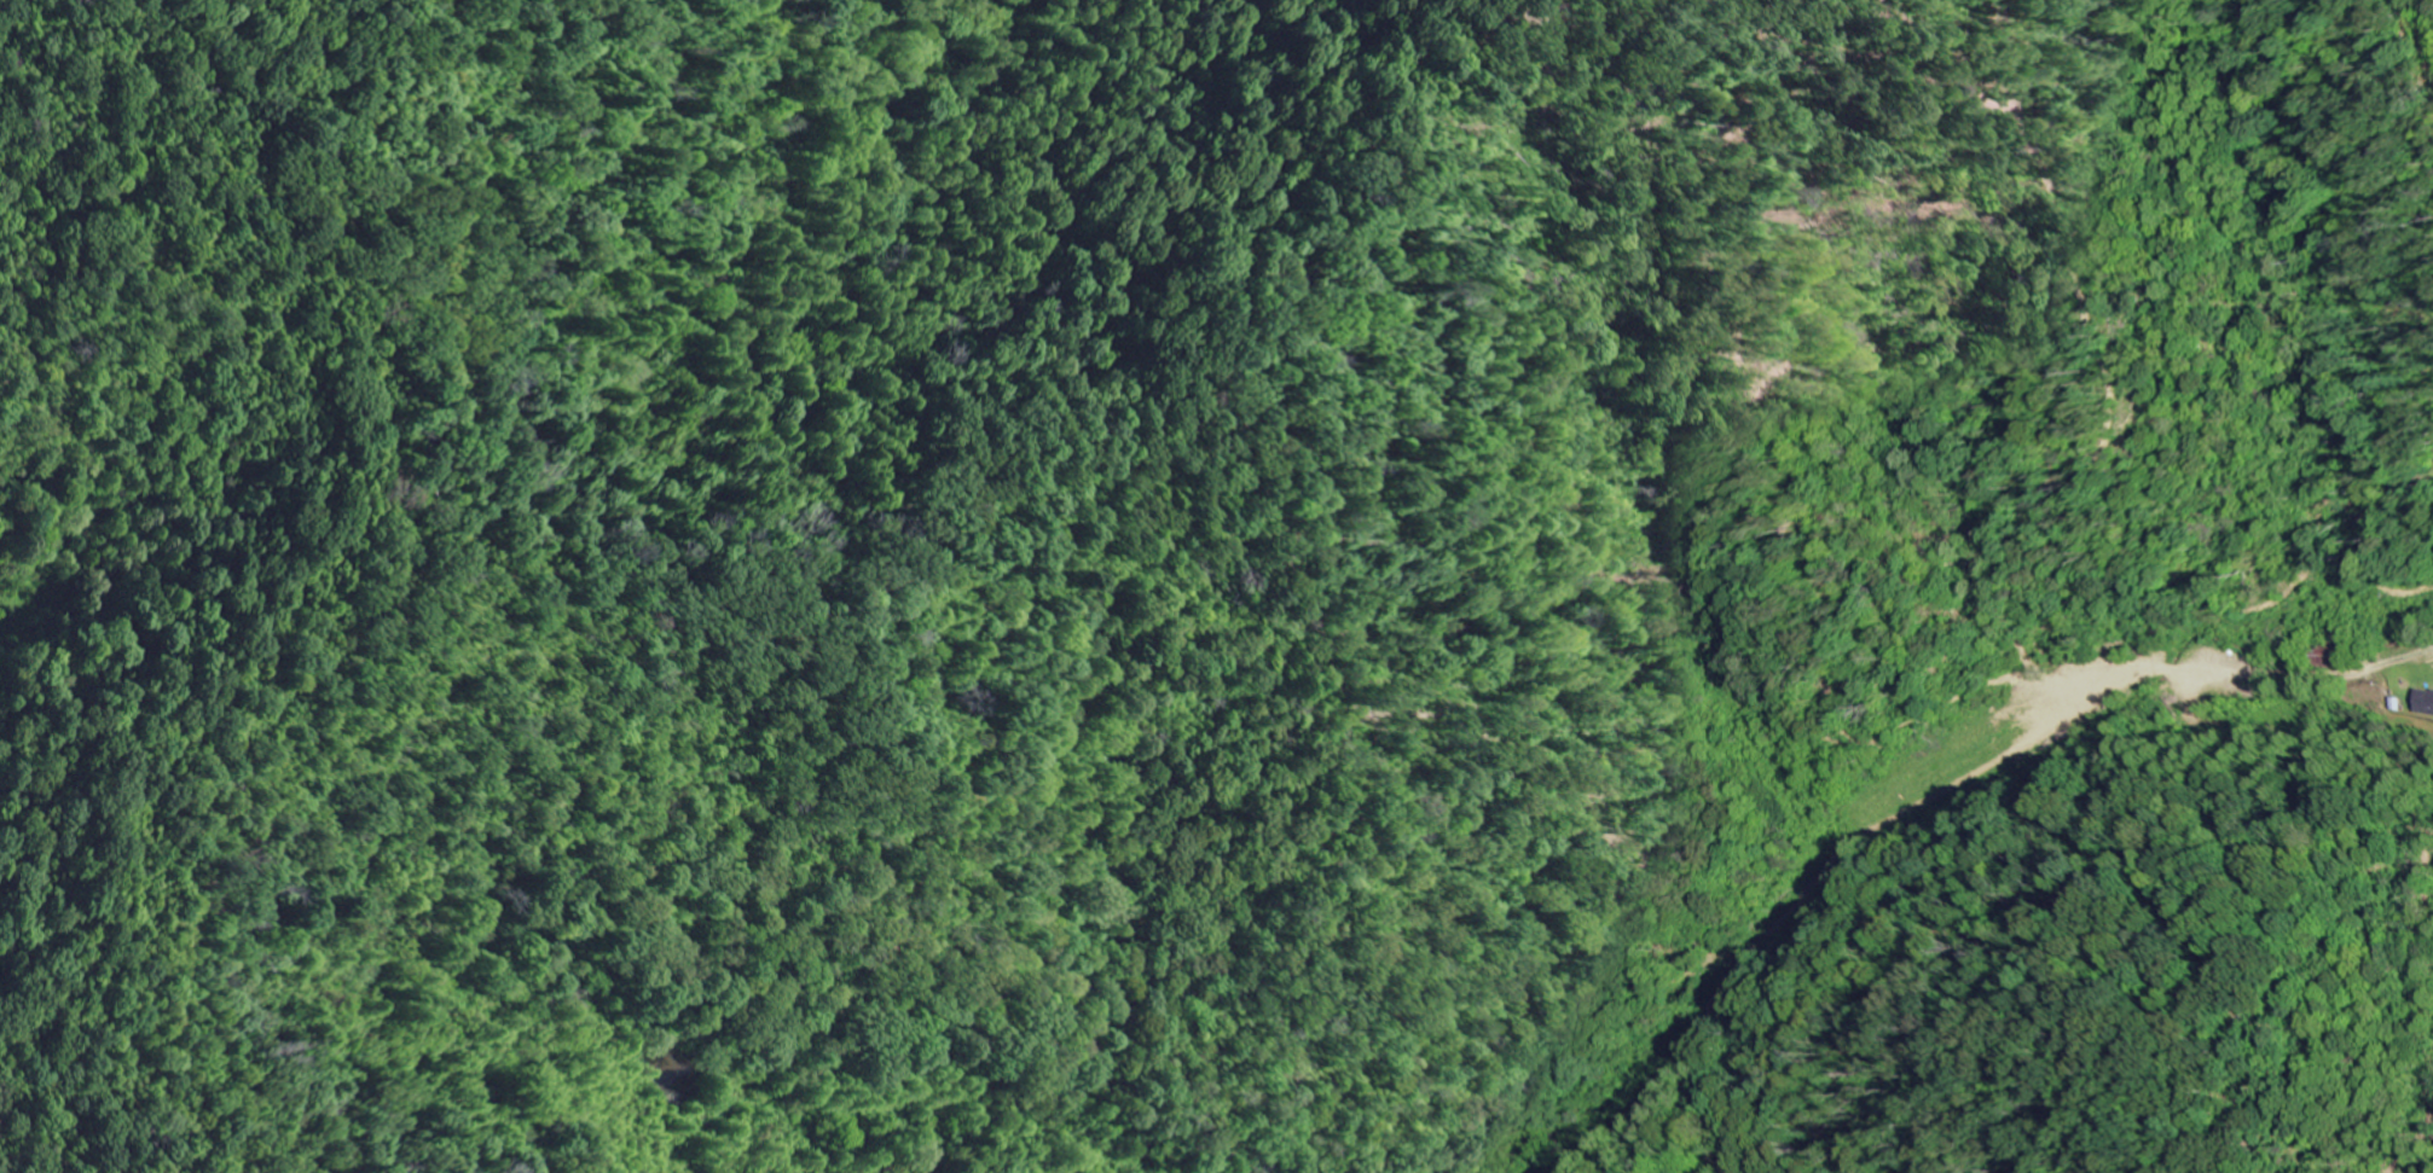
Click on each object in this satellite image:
road: (2278, 674)
building: (2425, 702)

